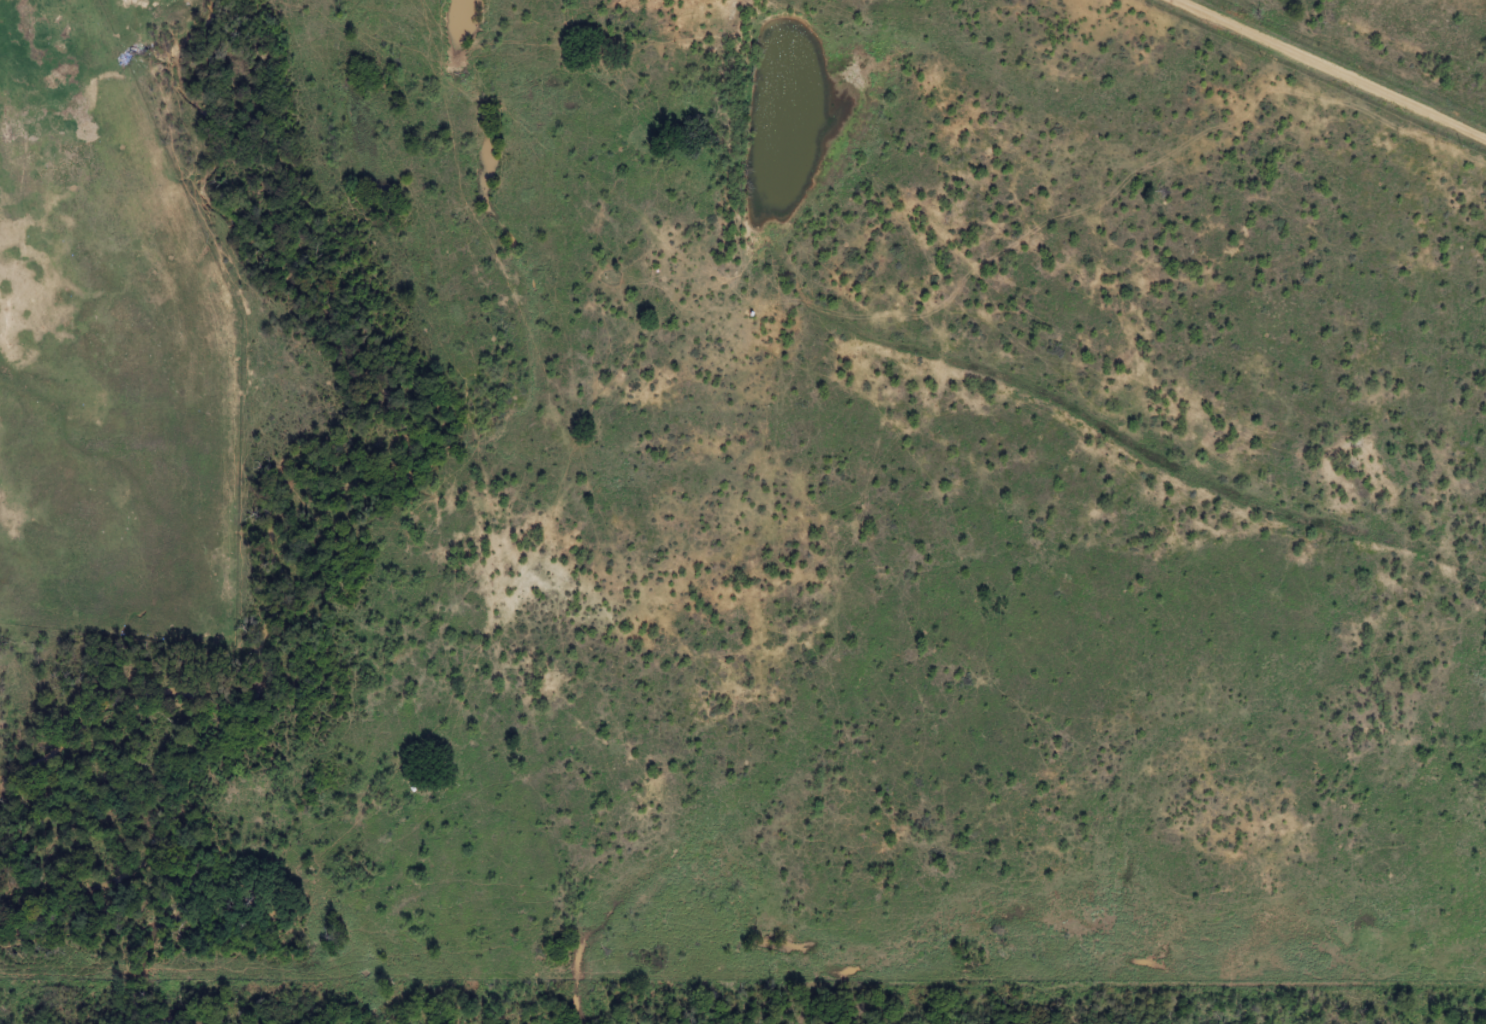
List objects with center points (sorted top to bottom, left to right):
road: (1335, 68)

